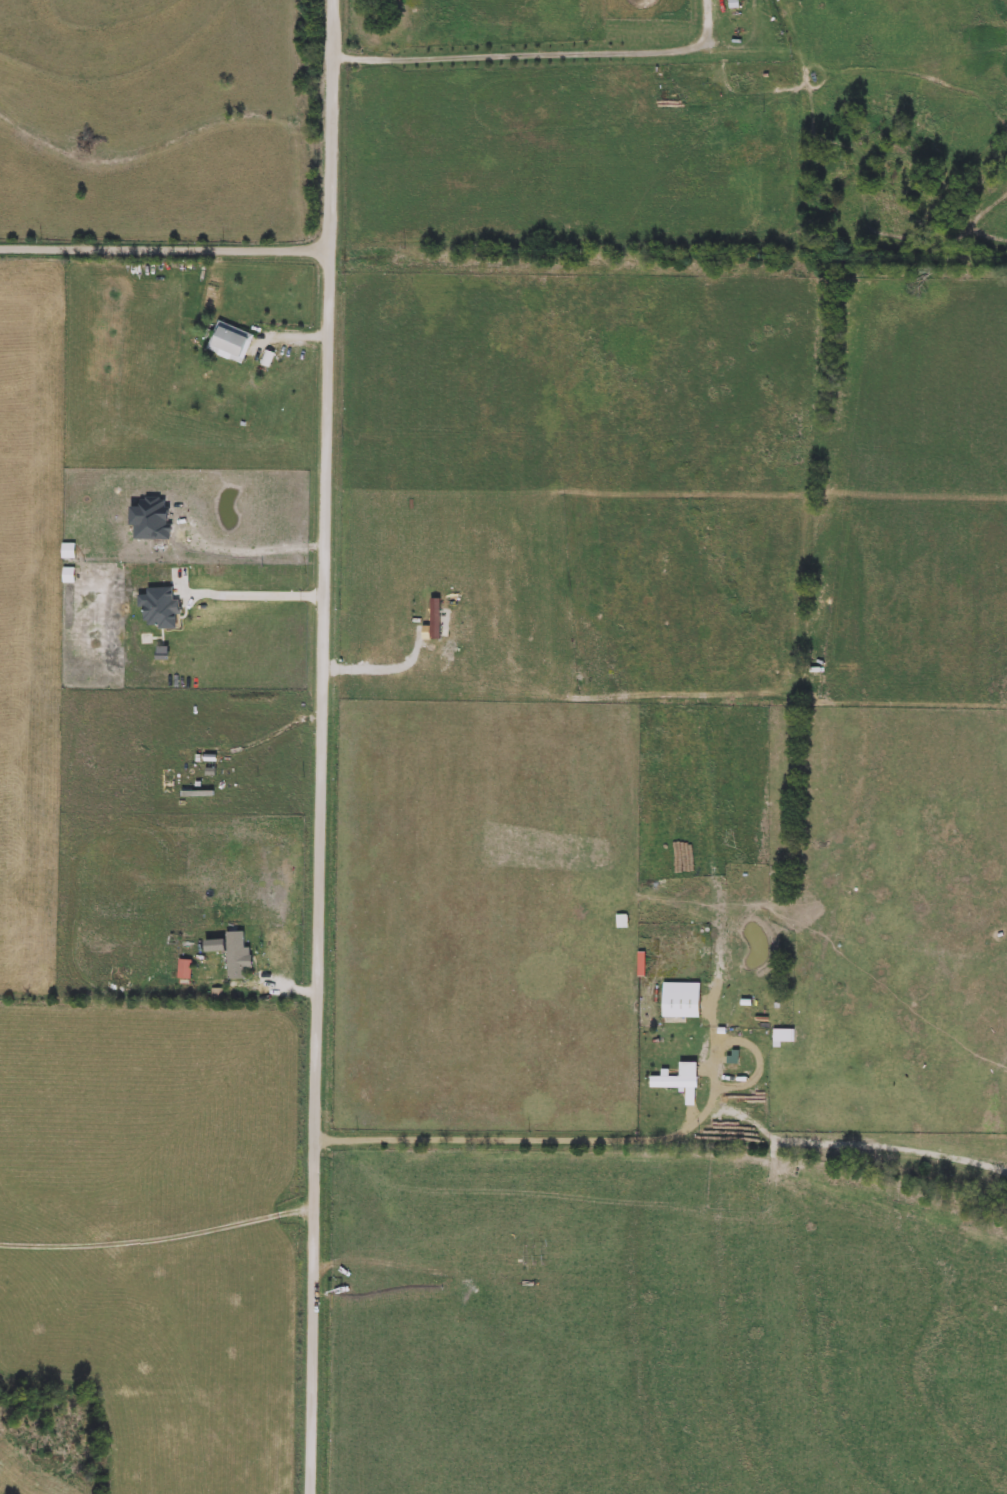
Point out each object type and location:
road: (544, 55)
road: (167, 245)
building: (231, 342)
road: (255, 594)
road: (278, 723)
road: (326, 747)
building: (623, 921)
building: (642, 964)
building: (684, 1000)
building: (785, 1036)
building: (745, 1046)
building: (681, 1078)
road: (555, 1140)
road: (159, 1238)

